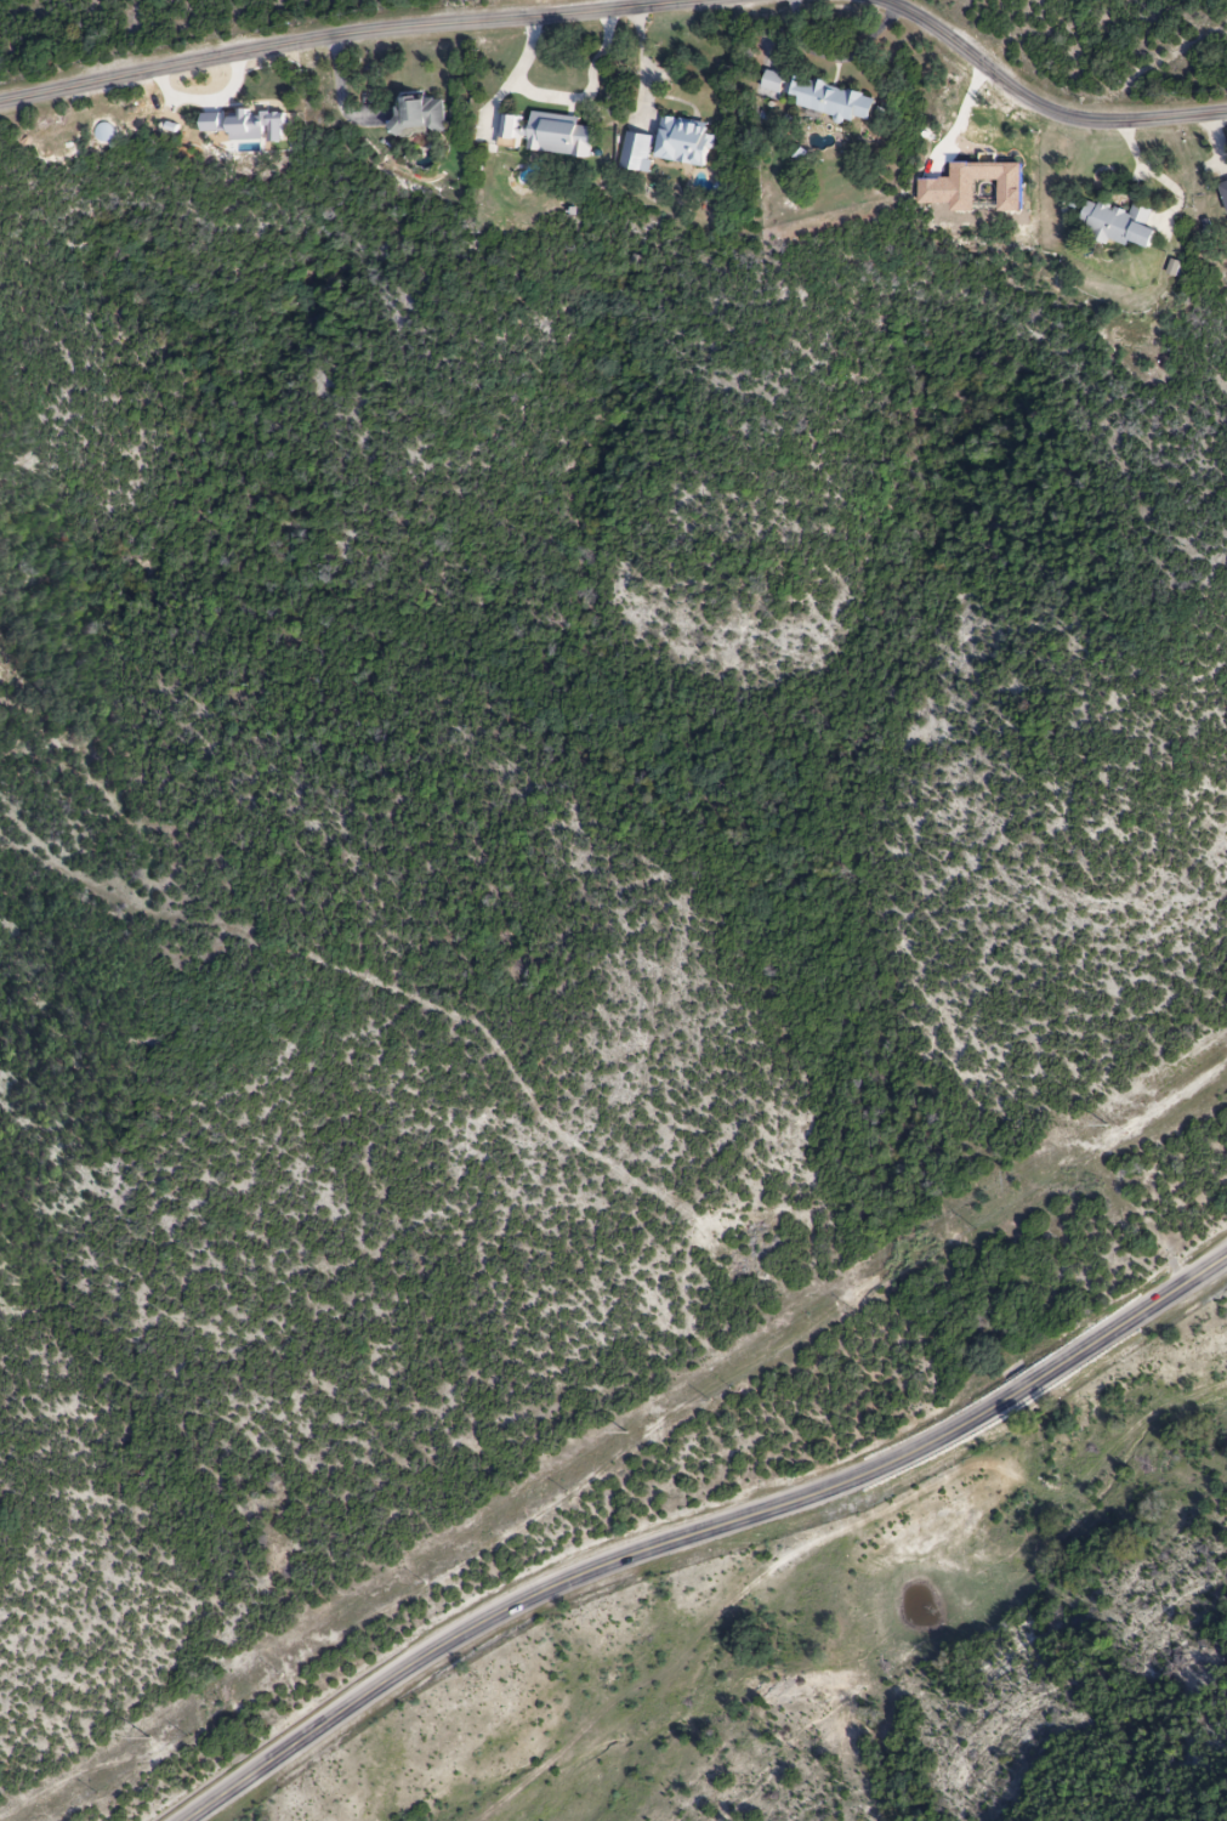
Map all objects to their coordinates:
road: (335, 39)
road: (646, 62)
road: (562, 97)
building: (814, 97)
road: (340, 98)
road: (1041, 102)
building: (420, 117)
building: (546, 136)
building: (681, 143)
building: (1223, 195)
building: (1118, 227)
power tower: (1107, 1127)
power tower: (629, 1434)
road: (706, 1528)
power tower: (152, 1738)

